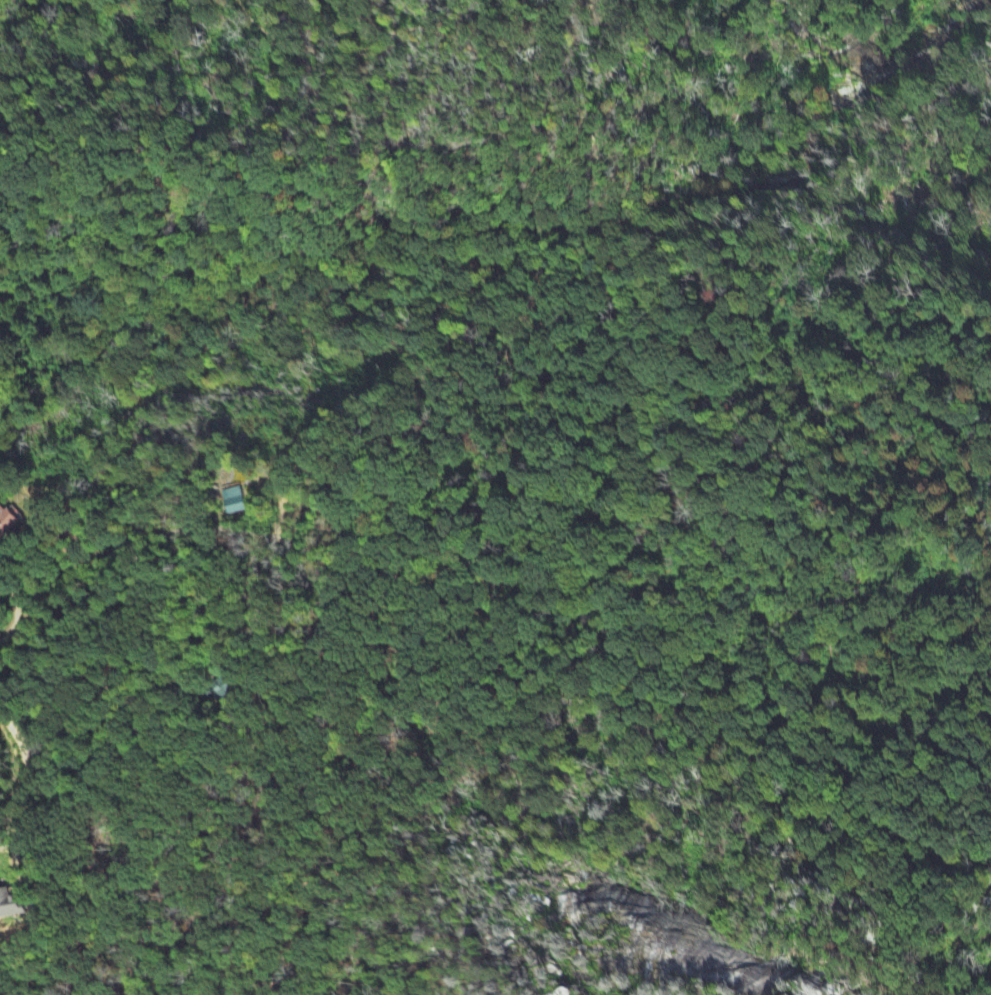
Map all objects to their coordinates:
building: (234, 499)
building: (10, 521)
road: (873, 556)
road: (93, 558)
road: (458, 575)
road: (258, 633)
road: (850, 656)
building: (223, 689)
park: (615, 698)
road: (22, 791)
road: (917, 882)
building: (11, 905)

